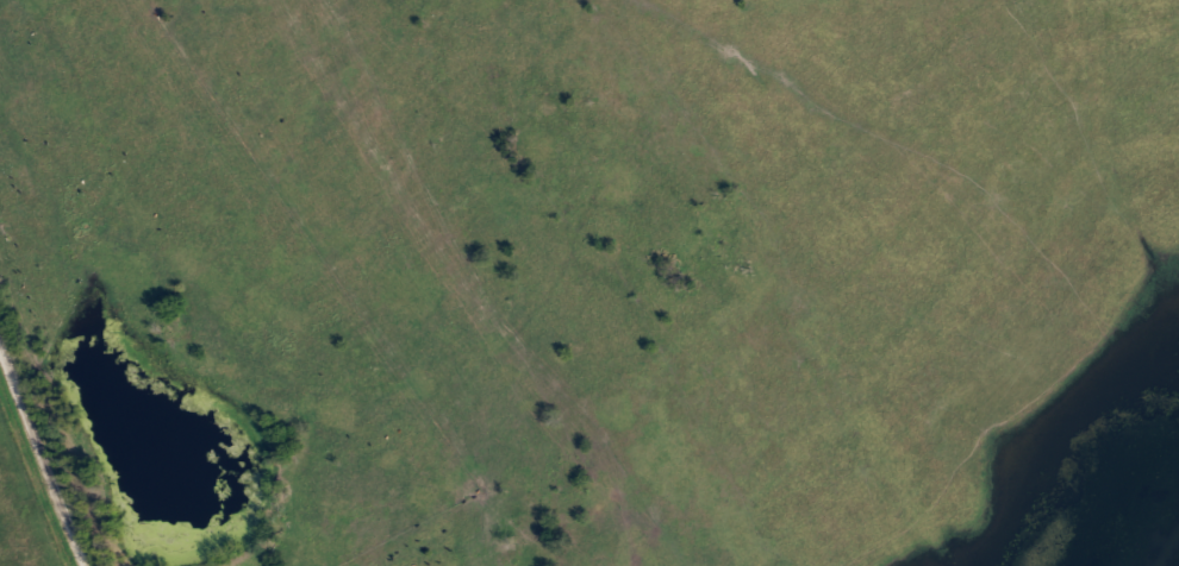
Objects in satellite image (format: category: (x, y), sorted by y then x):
road: (49, 442)

